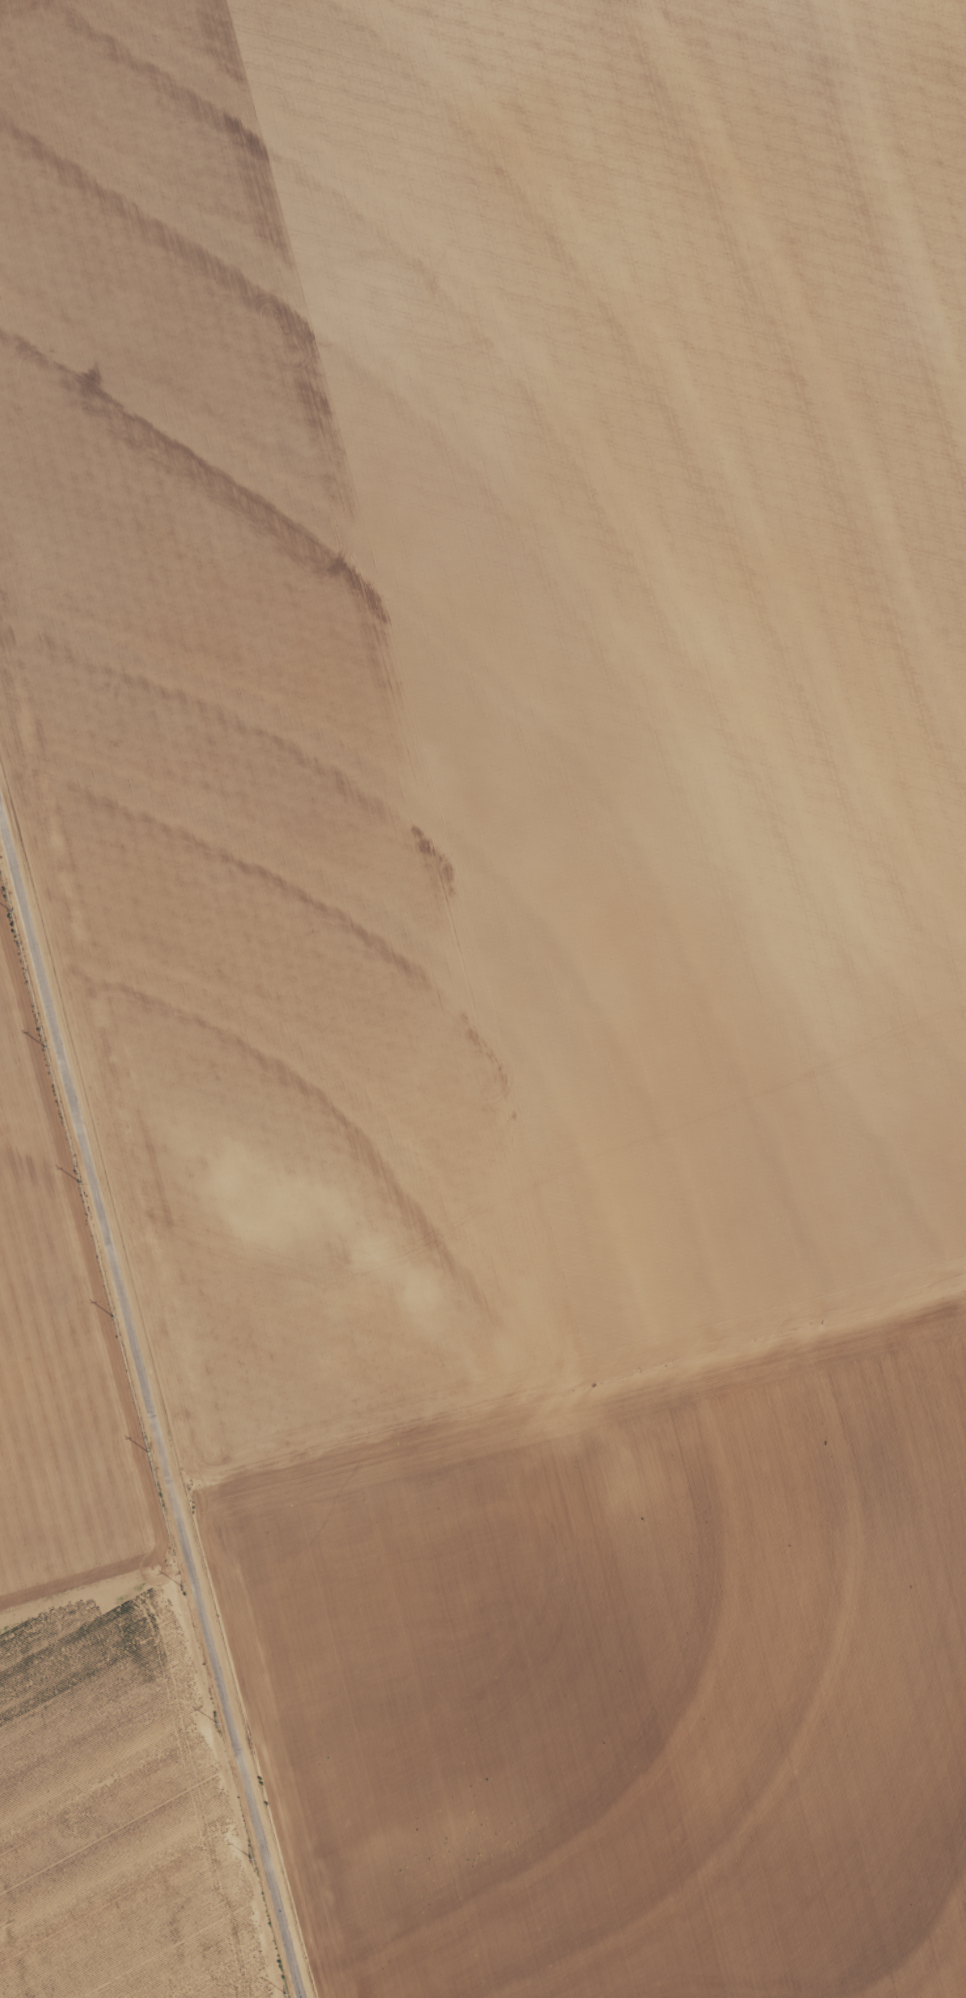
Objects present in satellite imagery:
road: (148, 1419)

